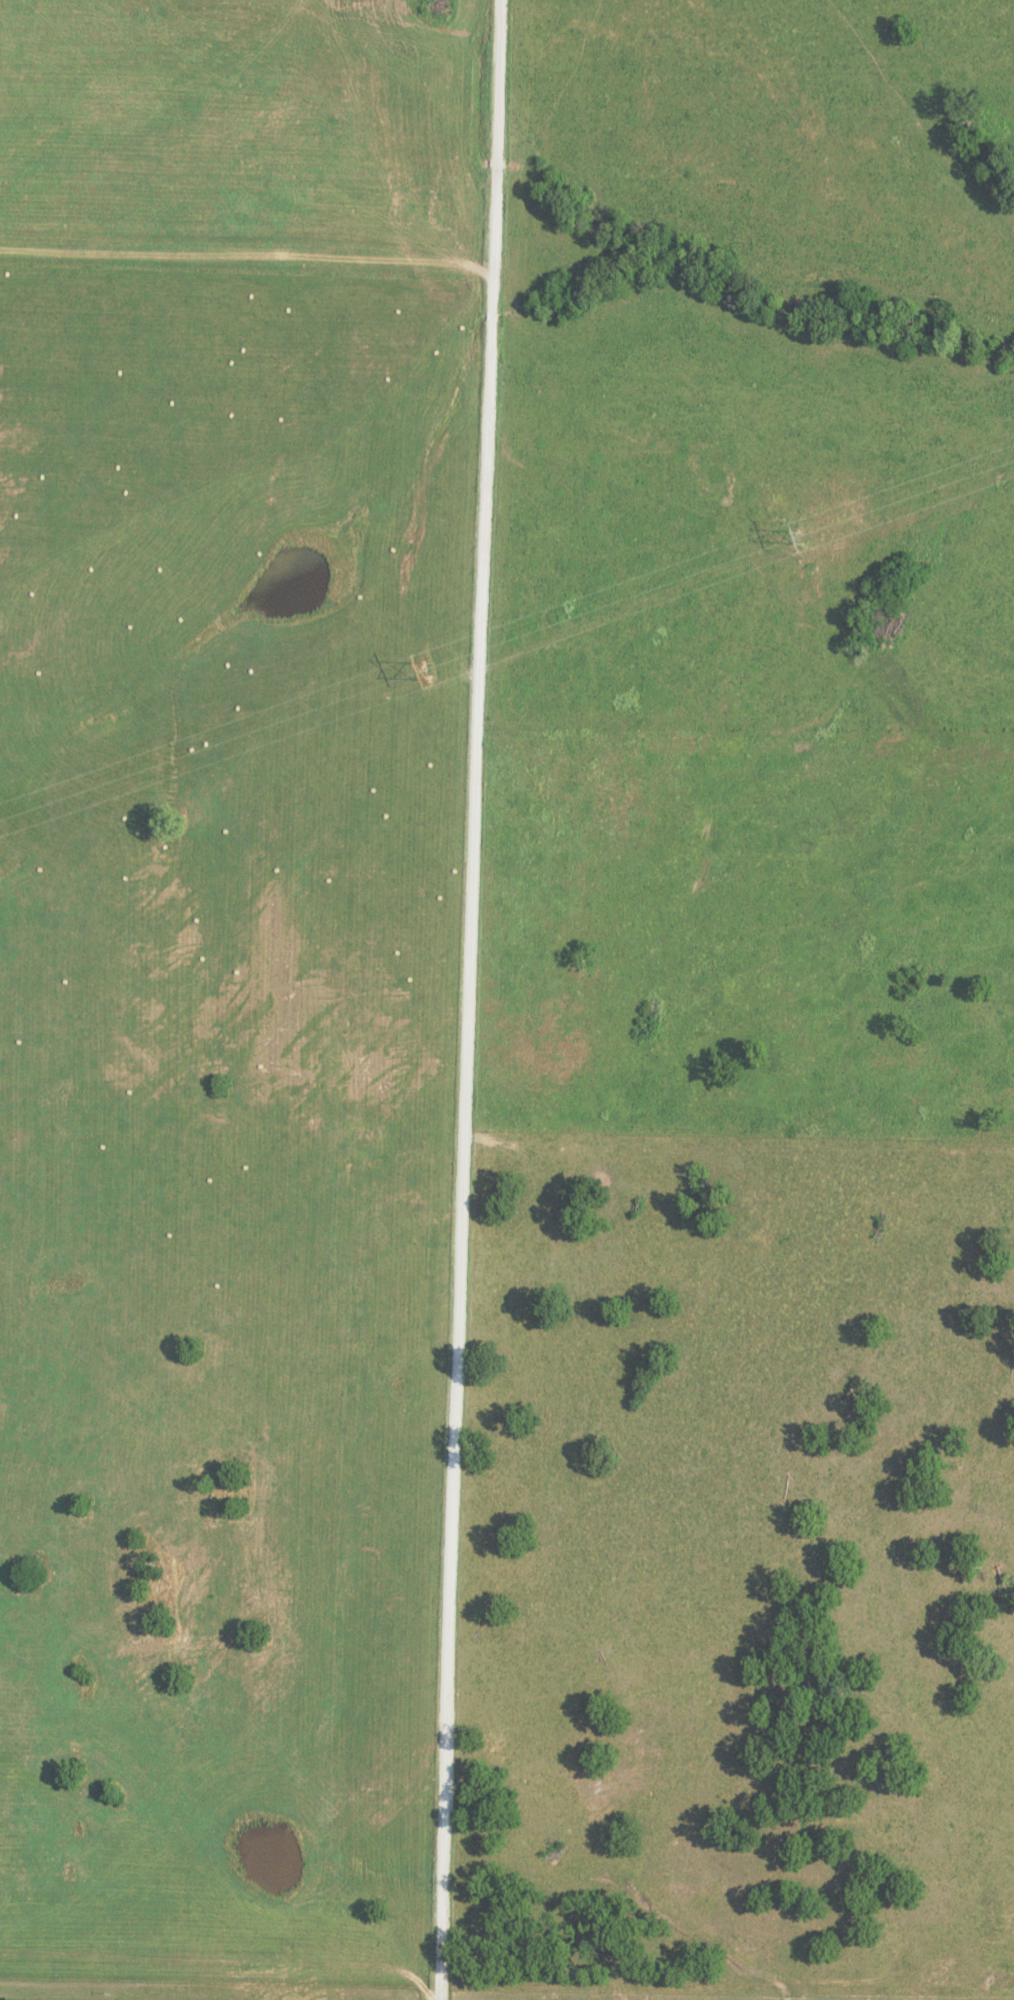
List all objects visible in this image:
power tower: (799, 540)
power tower: (436, 669)
road: (464, 999)

